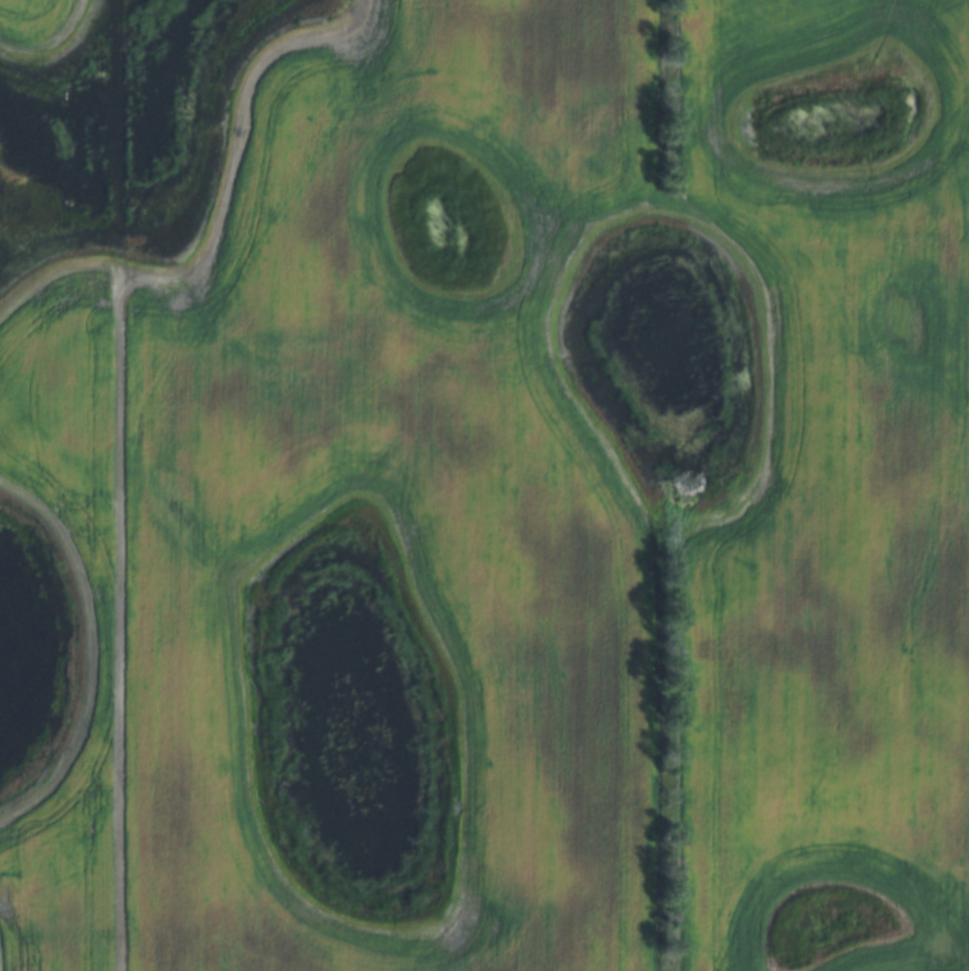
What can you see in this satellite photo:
road: (141, 442)

